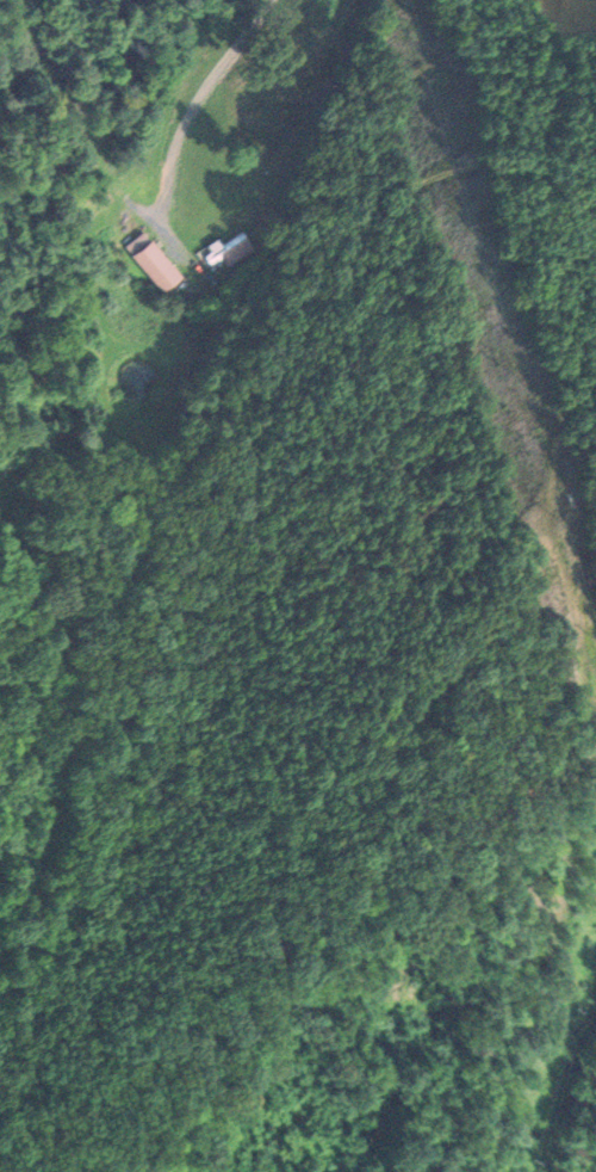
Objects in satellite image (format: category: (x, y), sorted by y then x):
road: (194, 103)
building: (160, 264)

